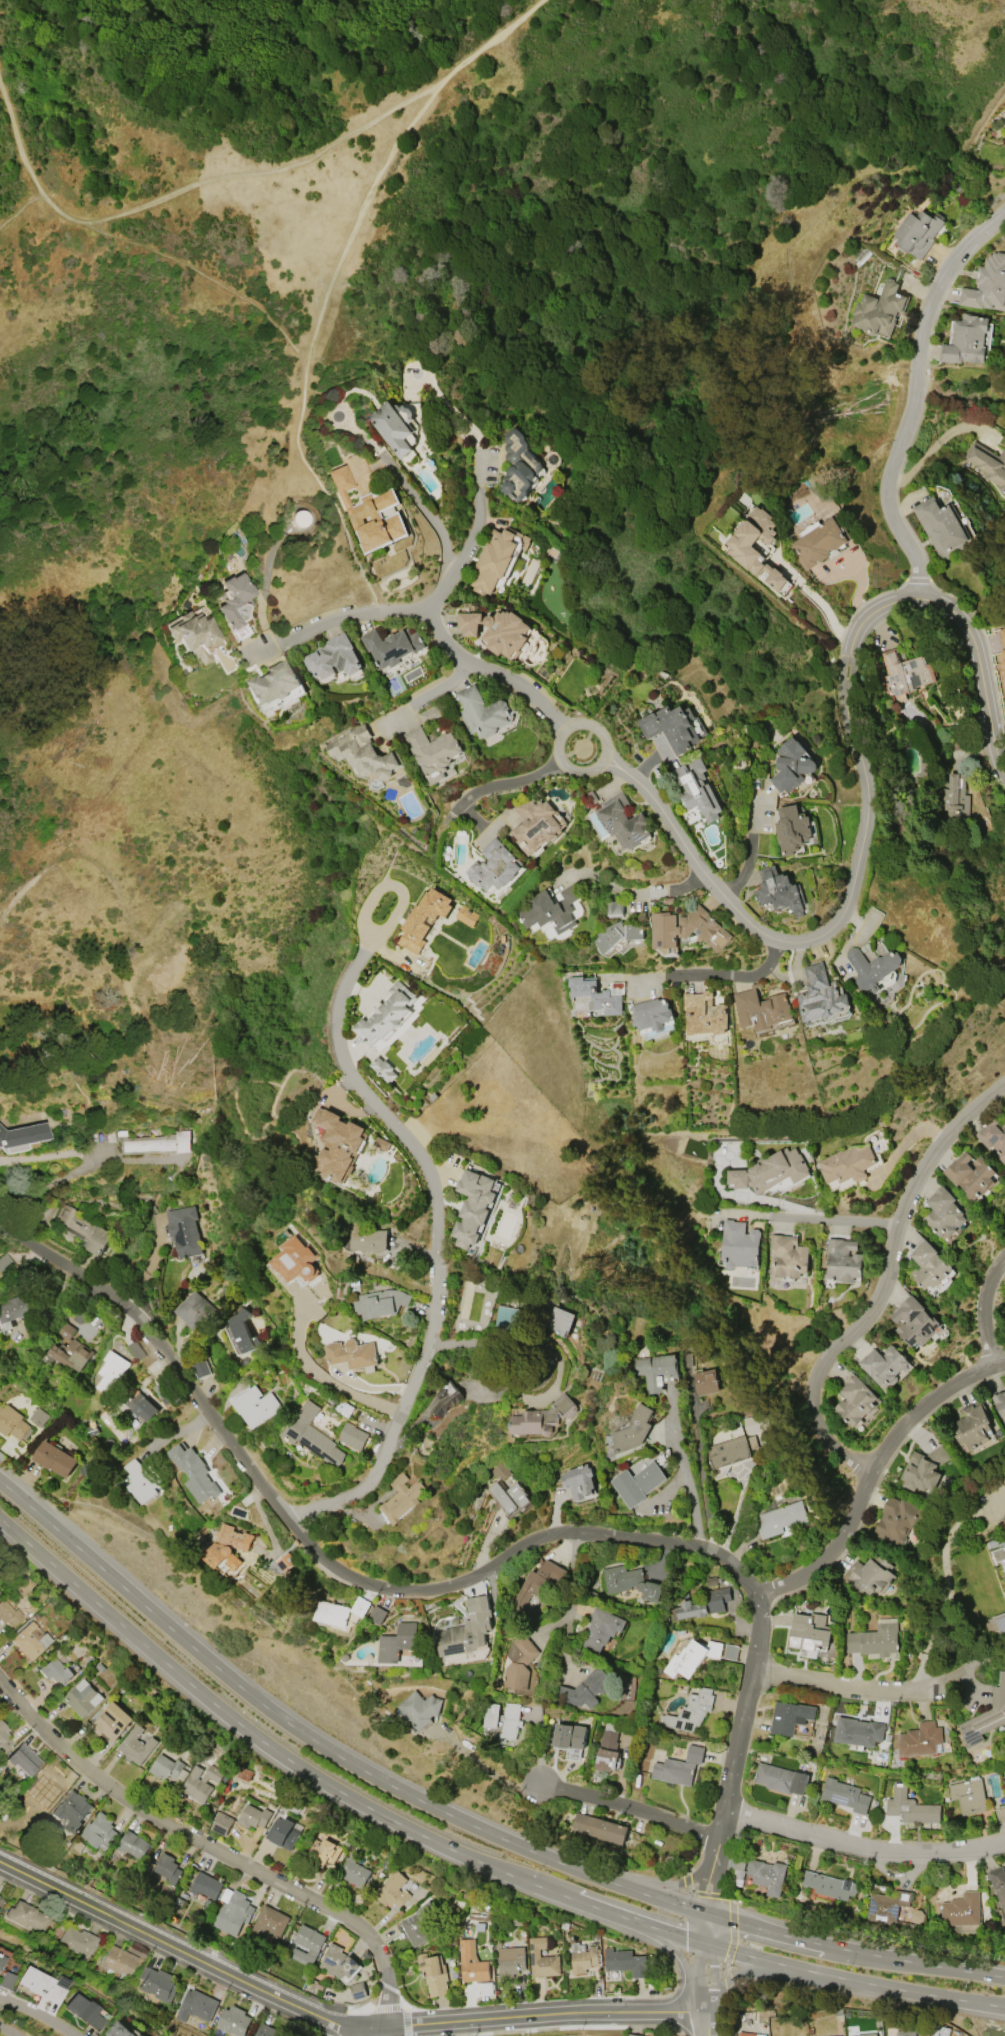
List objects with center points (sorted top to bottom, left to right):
road: (248, 172)
road: (20, 206)
building: (917, 232)
road: (207, 280)
building: (987, 284)
building: (879, 309)
building: (966, 340)
road: (304, 349)
road: (307, 361)
road: (916, 392)
road: (464, 420)
building: (394, 425)
building: (988, 463)
building: (519, 465)
road: (406, 483)
road: (329, 506)
building: (368, 512)
building: (941, 527)
building: (820, 542)
building: (740, 548)
building: (497, 558)
building: (234, 600)
road: (819, 602)
road: (374, 607)
road: (414, 609)
building: (468, 622)
building: (504, 633)
building: (1003, 634)
building: (194, 635)
road: (970, 636)
building: (391, 646)
building: (1003, 655)
building: (333, 657)
road: (487, 672)
building: (904, 673)
building: (272, 683)
road: (427, 700)
building: (1004, 706)
building: (483, 712)
building: (430, 714)
building: (674, 726)
road: (557, 740)
building: (432, 751)
building: (365, 753)
building: (791, 765)
road: (499, 786)
building: (695, 788)
building: (955, 800)
building: (623, 822)
building: (536, 823)
building: (792, 829)
road: (741, 850)
building: (493, 866)
building: (779, 890)
road: (631, 891)
building: (616, 907)
building: (549, 909)
building: (463, 913)
building: (423, 918)
building: (687, 928)
road: (819, 931)
building: (619, 934)
building: (872, 966)
road: (711, 976)
building: (820, 994)
building: (596, 995)
building: (762, 1009)
building: (652, 1013)
building: (704, 1013)
building: (385, 1015)
building: (384, 1068)
building: (22, 1134)
building: (993, 1137)
building: (149, 1142)
building: (337, 1145)
building: (847, 1163)
road: (82, 1168)
building: (772, 1172)
building: (969, 1174)
building: (472, 1206)
building: (942, 1212)
road: (815, 1218)
building: (82, 1229)
building: (183, 1229)
building: (367, 1238)
road: (434, 1242)
building: (739, 1244)
building: (789, 1255)
building: (295, 1260)
building: (842, 1260)
building: (5, 1264)
building: (927, 1265)
road: (885, 1283)
building: (380, 1303)
road: (981, 1307)
building: (14, 1310)
building: (195, 1310)
building: (508, 1318)
building: (561, 1321)
building: (914, 1321)
building: (242, 1329)
road: (518, 1342)
building: (67, 1350)
building: (136, 1350)
road: (162, 1350)
building: (352, 1353)
building: (884, 1365)
building: (200, 1368)
building: (655, 1370)
building: (110, 1371)
road: (320, 1372)
building: (706, 1382)
building: (446, 1398)
building: (854, 1400)
building: (1000, 1403)
building: (141, 1405)
building: (255, 1406)
building: (39, 1416)
building: (542, 1417)
building: (13, 1423)
building: (972, 1424)
building: (631, 1430)
road: (177, 1431)
building: (312, 1435)
building: (353, 1436)
building: (730, 1450)
building: (54, 1458)
building: (924, 1468)
road: (873, 1470)
building: (499, 1471)
road: (686, 1471)
building: (194, 1472)
building: (578, 1480)
building: (139, 1481)
building: (637, 1482)
road: (12, 1491)
building: (509, 1496)
building: (400, 1498)
building: (780, 1518)
building: (899, 1519)
road: (10, 1524)
building: (997, 1541)
road: (668, 1544)
building: (228, 1546)
building: (1000, 1554)
building: (285, 1561)
building: (870, 1574)
building: (630, 1581)
building: (534, 1585)
road: (569, 1599)
building: (701, 1604)
building: (360, 1606)
building: (8, 1613)
building: (331, 1613)
building: (377, 1614)
building: (997, 1623)
building: (466, 1628)
building: (600, 1629)
building: (809, 1631)
building: (30, 1640)
building: (874, 1640)
building: (396, 1642)
building: (731, 1651)
building: (690, 1657)
building: (518, 1662)
building: (55, 1671)
road: (842, 1687)
building: (584, 1689)
building: (82, 1698)
building: (419, 1708)
building: (689, 1711)
building: (790, 1716)
building: (986, 1717)
building: (502, 1720)
building: (111, 1721)
building: (858, 1731)
building: (569, 1735)
building: (3, 1738)
building: (920, 1739)
building: (136, 1745)
road: (277, 1748)
building: (607, 1751)
building: (694, 1753)
road: (337, 1755)
building: (23, 1759)
building: (167, 1768)
building: (673, 1771)
building: (243, 1774)
building: (780, 1778)
building: (200, 1782)
building: (47, 1786)
building: (845, 1795)
building: (968, 1795)
building: (910, 1807)
road: (627, 1808)
building: (72, 1810)
building: (253, 1816)
building: (221, 1823)
building: (600, 1827)
building: (99, 1831)
building: (282, 1832)
building: (133, 1845)
road: (865, 1845)
road: (213, 1849)
building: (323, 1850)
building: (168, 1868)
building: (737, 1870)
building: (353, 1871)
building: (767, 1875)
road: (676, 1883)
building: (999, 1884)
building: (205, 1885)
building: (830, 1885)
building: (392, 1889)
building: (0, 1894)
building: (887, 1906)
building: (962, 1909)
building: (232, 1911)
traffic signals: (709, 1913)
building: (27, 1917)
building: (269, 1923)
road: (640, 1925)
building: (415, 1929)
road: (708, 1929)
road: (766, 1931)
building: (78, 1942)
building: (307, 1944)
traffic signals: (707, 1945)
road: (674, 1954)
building: (582, 1957)
road: (752, 1957)
building: (542, 1958)
building: (511, 1960)
building: (1, 1961)
building: (119, 1962)
building: (337, 1962)
building: (471, 1962)
building: (625, 1962)
road: (914, 1963)
road: (743, 1972)
building: (433, 1973)
road: (705, 1977)
building: (6, 1980)
building: (157, 1983)
building: (42, 1984)
building: (358, 1990)
road: (900, 1990)
building: (195, 2005)
building: (84, 2011)
road: (40, 2016)
building: (233, 2021)
road: (335, 2022)
road: (705, 2022)
road: (9, 2030)
building: (120, 2030)
building: (266, 2030)
building: (940, 2030)
road: (357, 2032)
park: (567, 2032)
building: (905, 2032)
building: (634, 2034)
building: (750, 2034)
building: (866, 2034)
building: (140, 2035)
building: (839, 2035)

